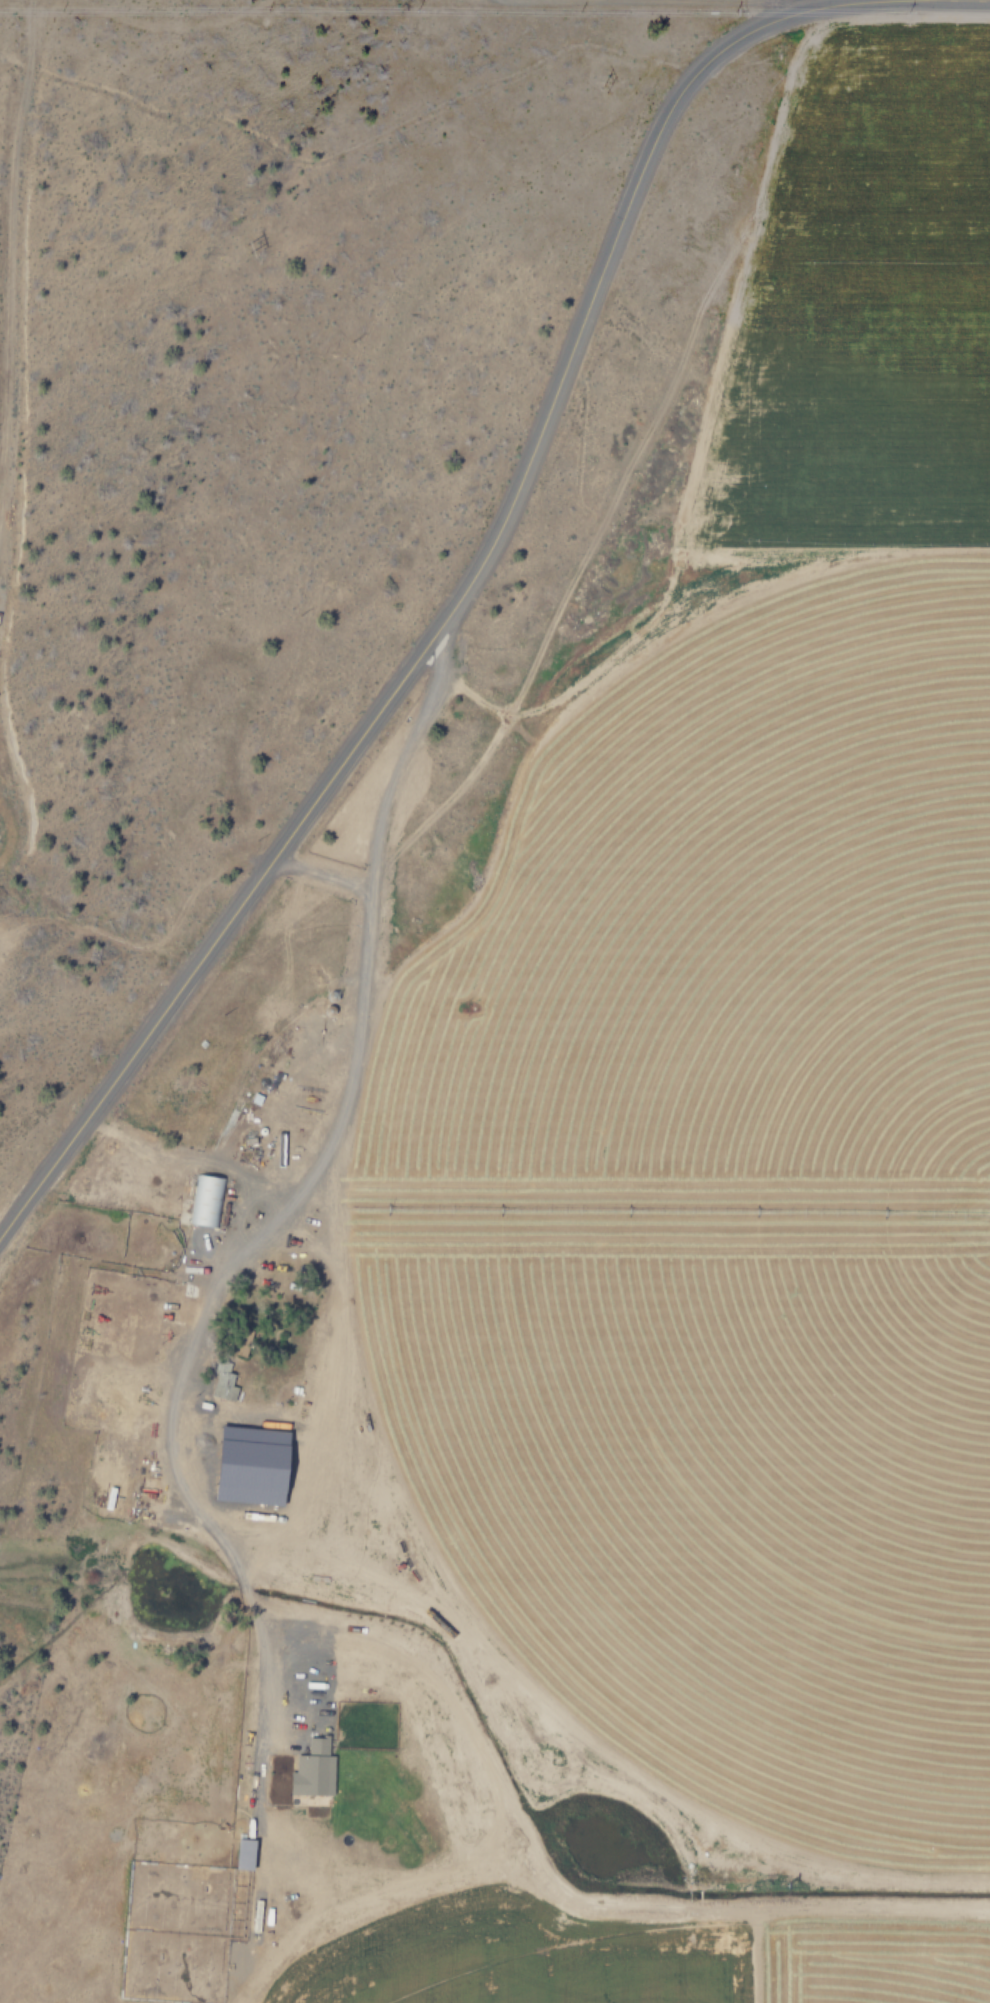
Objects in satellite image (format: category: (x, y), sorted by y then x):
road: (741, 0)
road: (11, 251)
road: (453, 598)
road: (318, 875)
road: (361, 998)
road: (188, 1163)
building: (204, 1200)
crop: (722, 1209)
building: (225, 1385)
building: (237, 1464)
building: (149, 1484)
building: (300, 1761)
building: (246, 1854)
crop: (709, 1958)

